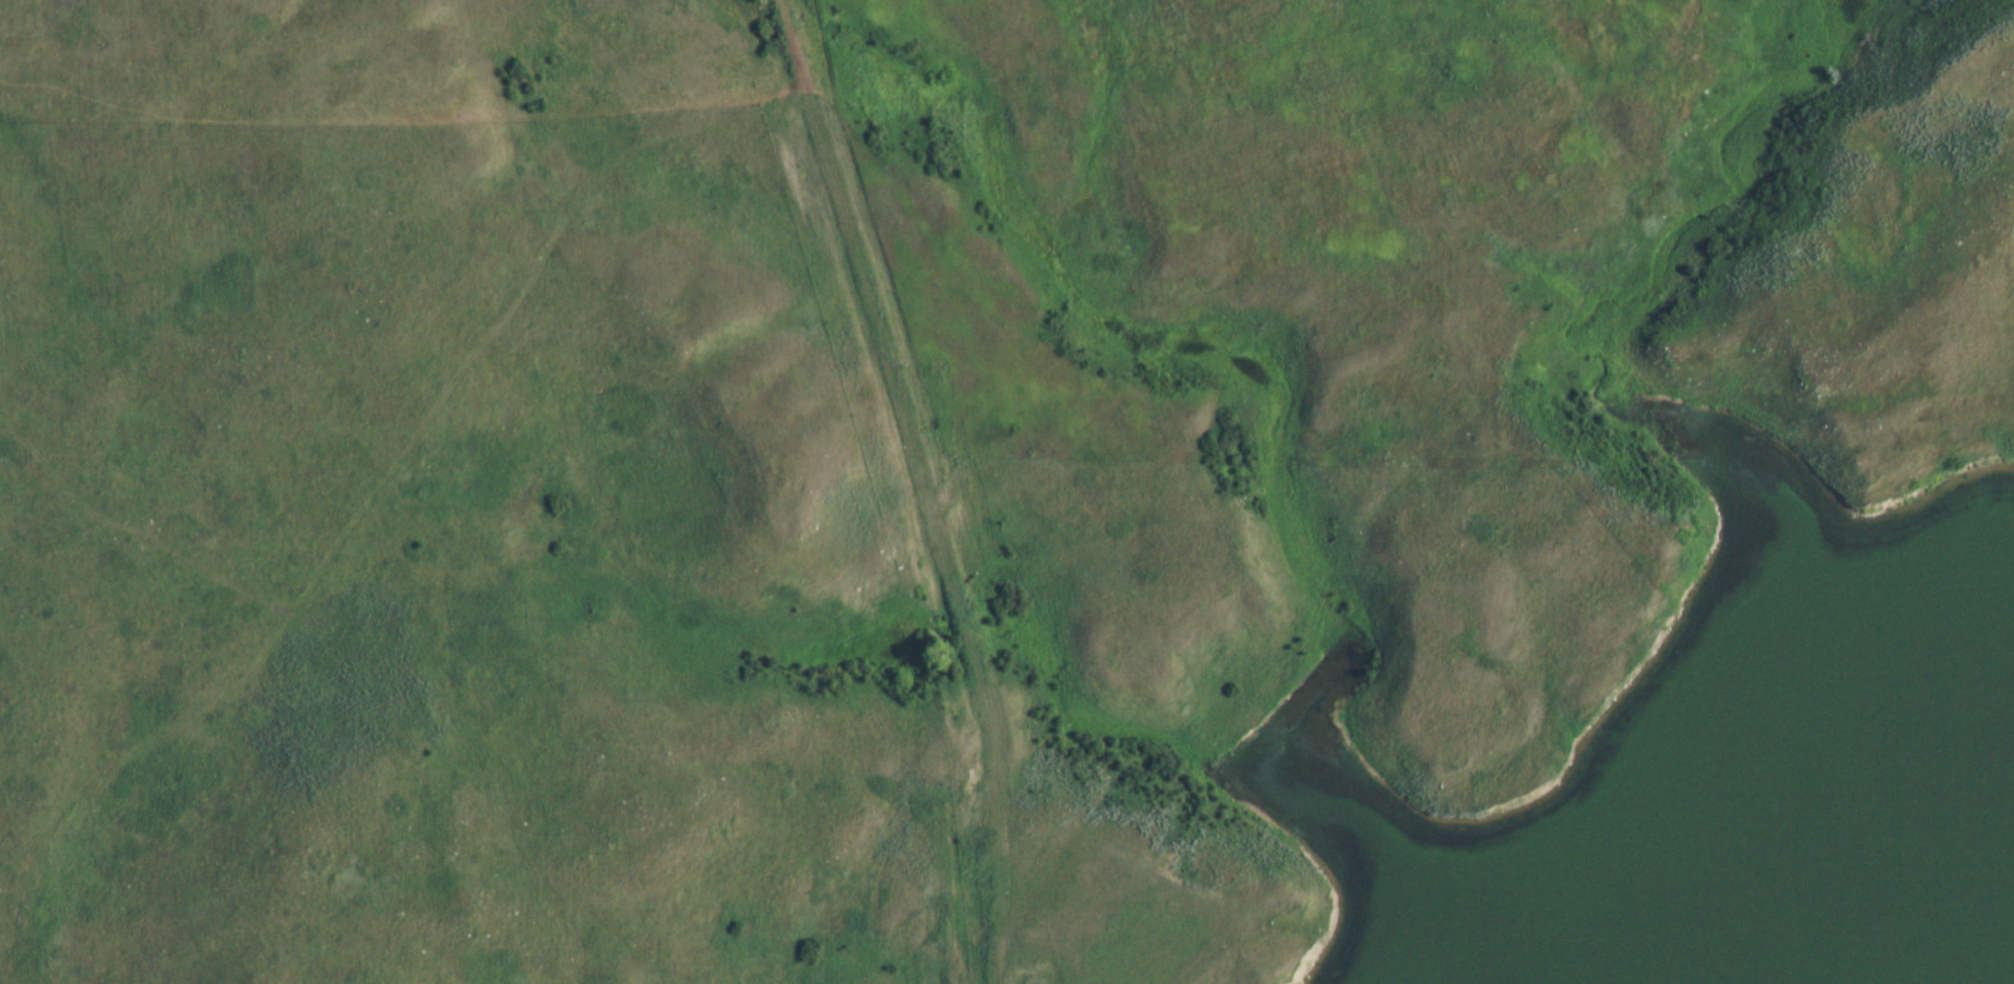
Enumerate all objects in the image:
road: (919, 490)

